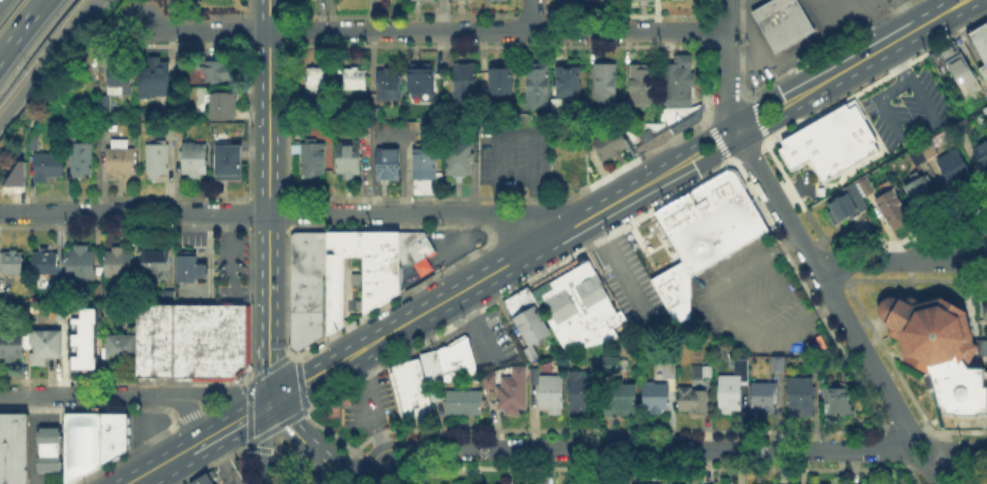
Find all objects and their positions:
building: (462, 0)
building: (573, 0)
building: (424, 1)
building: (644, 1)
parking lot: (751, 3)
road: (269, 15)
road: (530, 15)
parking lot: (844, 16)
road: (884, 20)
building: (782, 22)
road: (20, 26)
road: (433, 30)
building: (981, 40)
parking lot: (773, 54)
road: (48, 60)
road: (727, 66)
building: (957, 68)
building: (985, 71)
building: (220, 72)
building: (157, 79)
building: (355, 79)
building: (421, 80)
building: (121, 81)
building: (570, 81)
building: (318, 82)
building: (681, 82)
road: (909, 82)
building: (605, 84)
building: (642, 84)
building: (390, 85)
building: (503, 85)
building: (539, 85)
building: (467, 86)
road: (876, 99)
building: (557, 103)
parking lot: (908, 106)
building: (107, 107)
building: (225, 107)
building: (437, 114)
building: (985, 114)
road: (518, 128)
building: (666, 132)
building: (827, 141)
building: (37, 142)
building: (609, 143)
building: (922, 153)
building: (982, 156)
parking lot: (514, 157)
building: (460, 158)
building: (83, 159)
building: (122, 159)
building: (313, 159)
building: (159, 160)
road: (269, 160)
building: (196, 162)
building: (349, 162)
building: (230, 163)
building: (571, 164)
building: (390, 165)
building: (51, 168)
building: (953, 169)
building: (427, 172)
building: (14, 173)
road: (659, 176)
building: (20, 179)
building: (922, 197)
building: (844, 208)
building: (894, 211)
road: (134, 212)
road: (410, 213)
road: (955, 229)
building: (702, 233)
building: (417, 252)
road: (900, 261)
building: (13, 264)
building: (118, 264)
building: (47, 265)
building: (82, 265)
building: (157, 265)
parking lot: (229, 267)
building: (192, 268)
road: (229, 269)
building: (382, 283)
road: (825, 285)
parking lot: (630, 288)
building: (99, 289)
building: (310, 289)
building: (2, 298)
parking lot: (754, 305)
building: (583, 308)
building: (986, 310)
road: (718, 312)
building: (67, 314)
building: (528, 317)
building: (927, 329)
parking lot: (493, 337)
building: (189, 343)
building: (13, 345)
building: (49, 346)
road: (269, 347)
building: (117, 348)
building: (984, 348)
building: (84, 350)
building: (611, 365)
building: (447, 366)
building: (597, 366)
building: (780, 366)
building: (818, 367)
building: (672, 373)
building: (703, 373)
building: (537, 377)
road: (312, 379)
building: (490, 380)
building: (948, 381)
building: (734, 387)
building: (409, 389)
road: (212, 392)
building: (583, 392)
building: (516, 393)
building: (552, 395)
road: (76, 396)
building: (801, 397)
building: (657, 398)
building: (764, 399)
building: (622, 401)
building: (692, 401)
building: (841, 402)
road: (364, 403)
building: (465, 403)
traffic signals: (270, 405)
parking lot: (359, 410)
road: (186, 412)
road: (290, 427)
parking lot: (141, 428)
road: (230, 428)
road: (152, 432)
building: (89, 443)
road: (262, 444)
building: (16, 448)
road: (644, 449)
road: (959, 450)
building: (47, 453)
road: (277, 457)
road: (221, 460)
road: (910, 462)
road: (365, 464)
road: (330, 465)
road: (293, 466)
road: (853, 466)
road: (162, 467)
road: (933, 473)
building: (206, 481)
road: (142, 482)
road: (350, 482)
road: (222, 483)
building: (652, 483)
building: (822, 483)
building: (899, 483)

